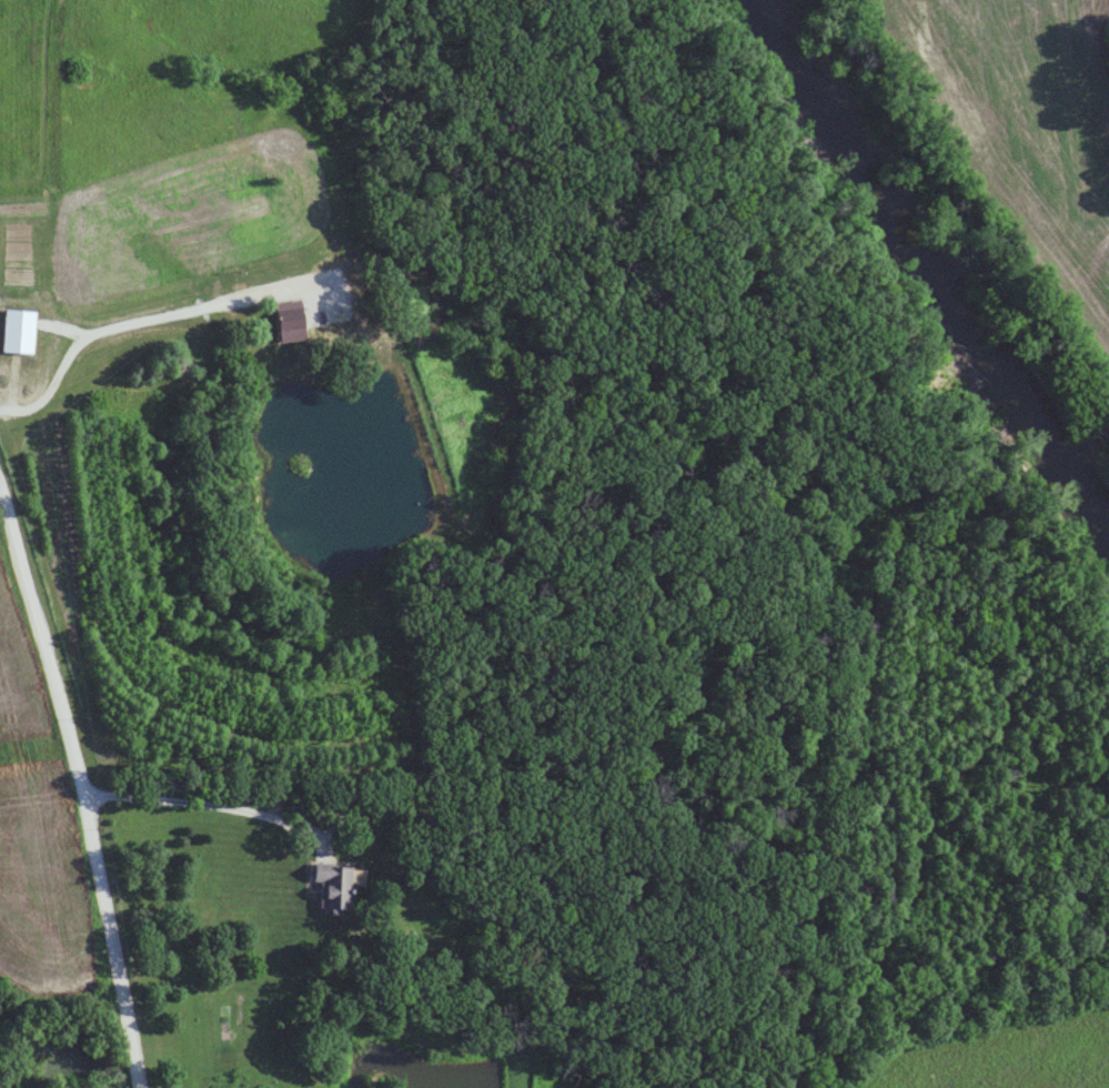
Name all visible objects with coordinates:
river: (931, 270)
building: (291, 315)
building: (19, 331)
road: (85, 783)
building: (334, 886)

